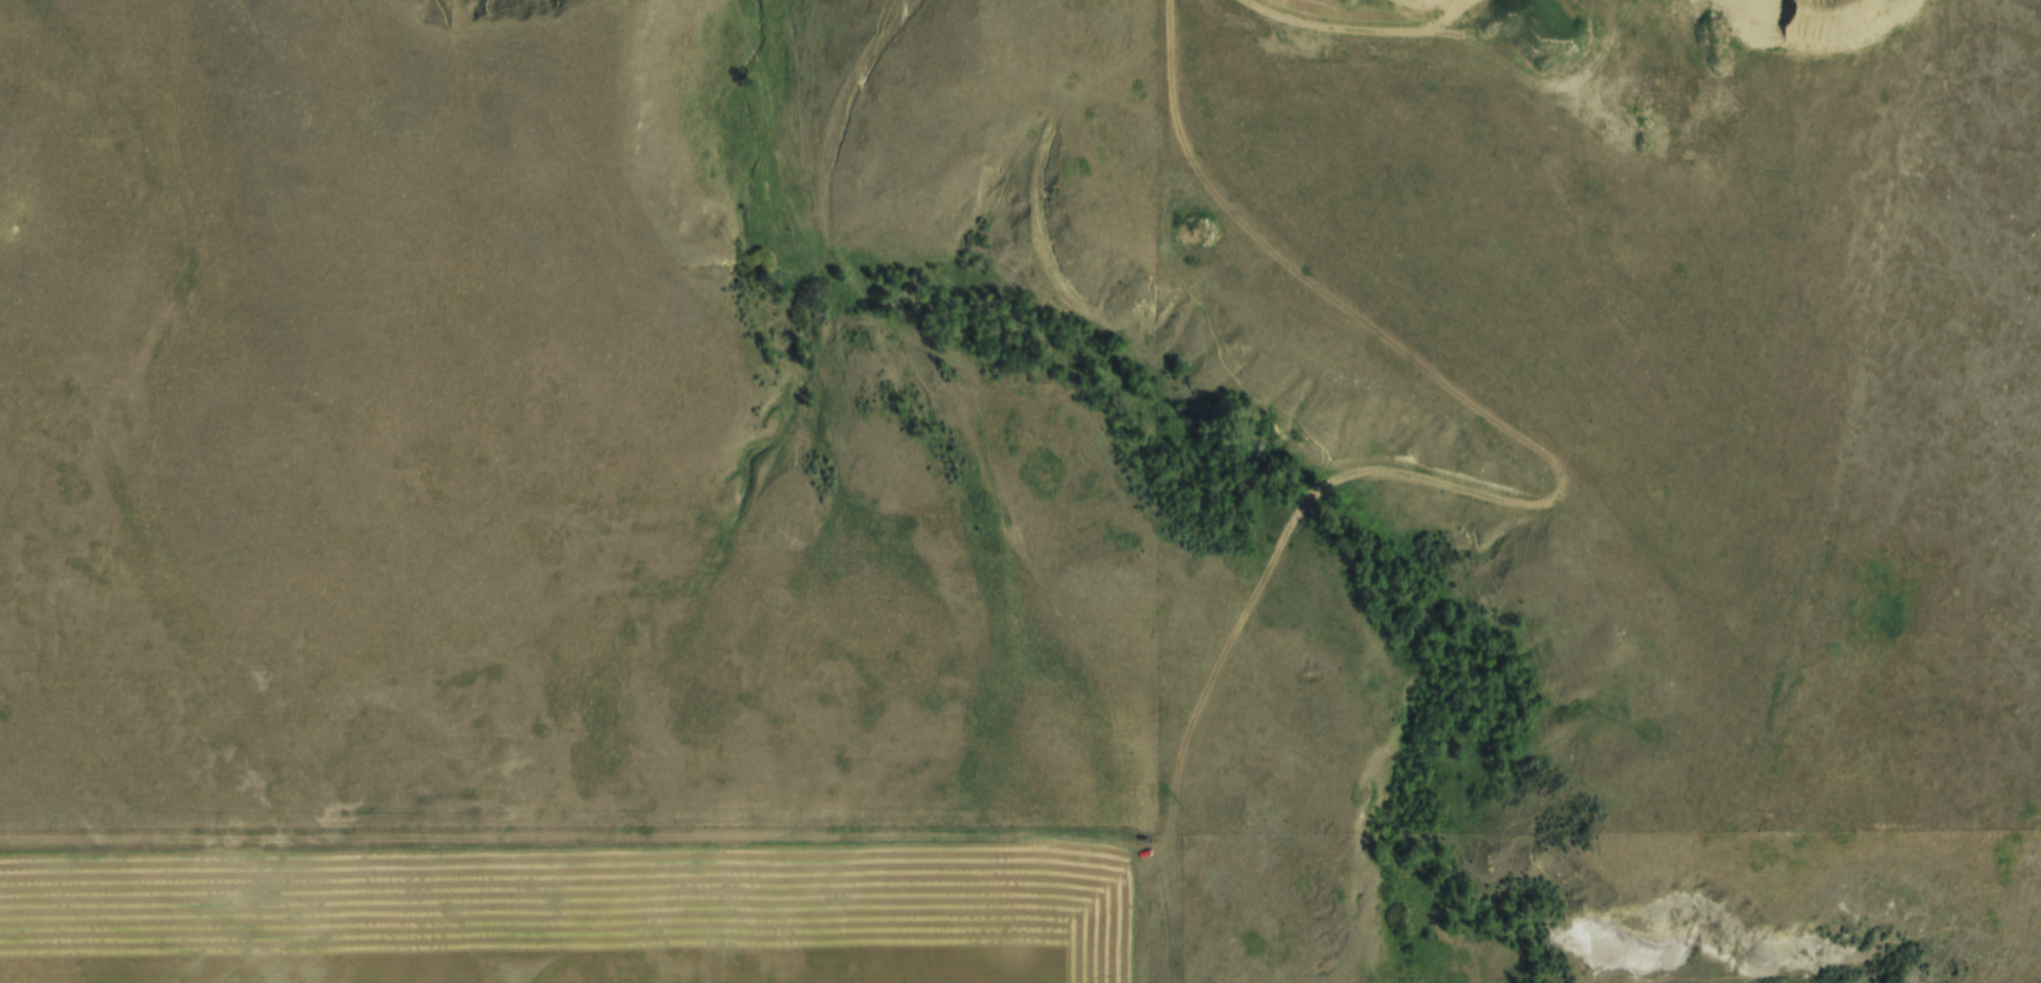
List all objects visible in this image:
quarry: (1653, 28)
road: (1464, 34)
road: (1564, 486)

